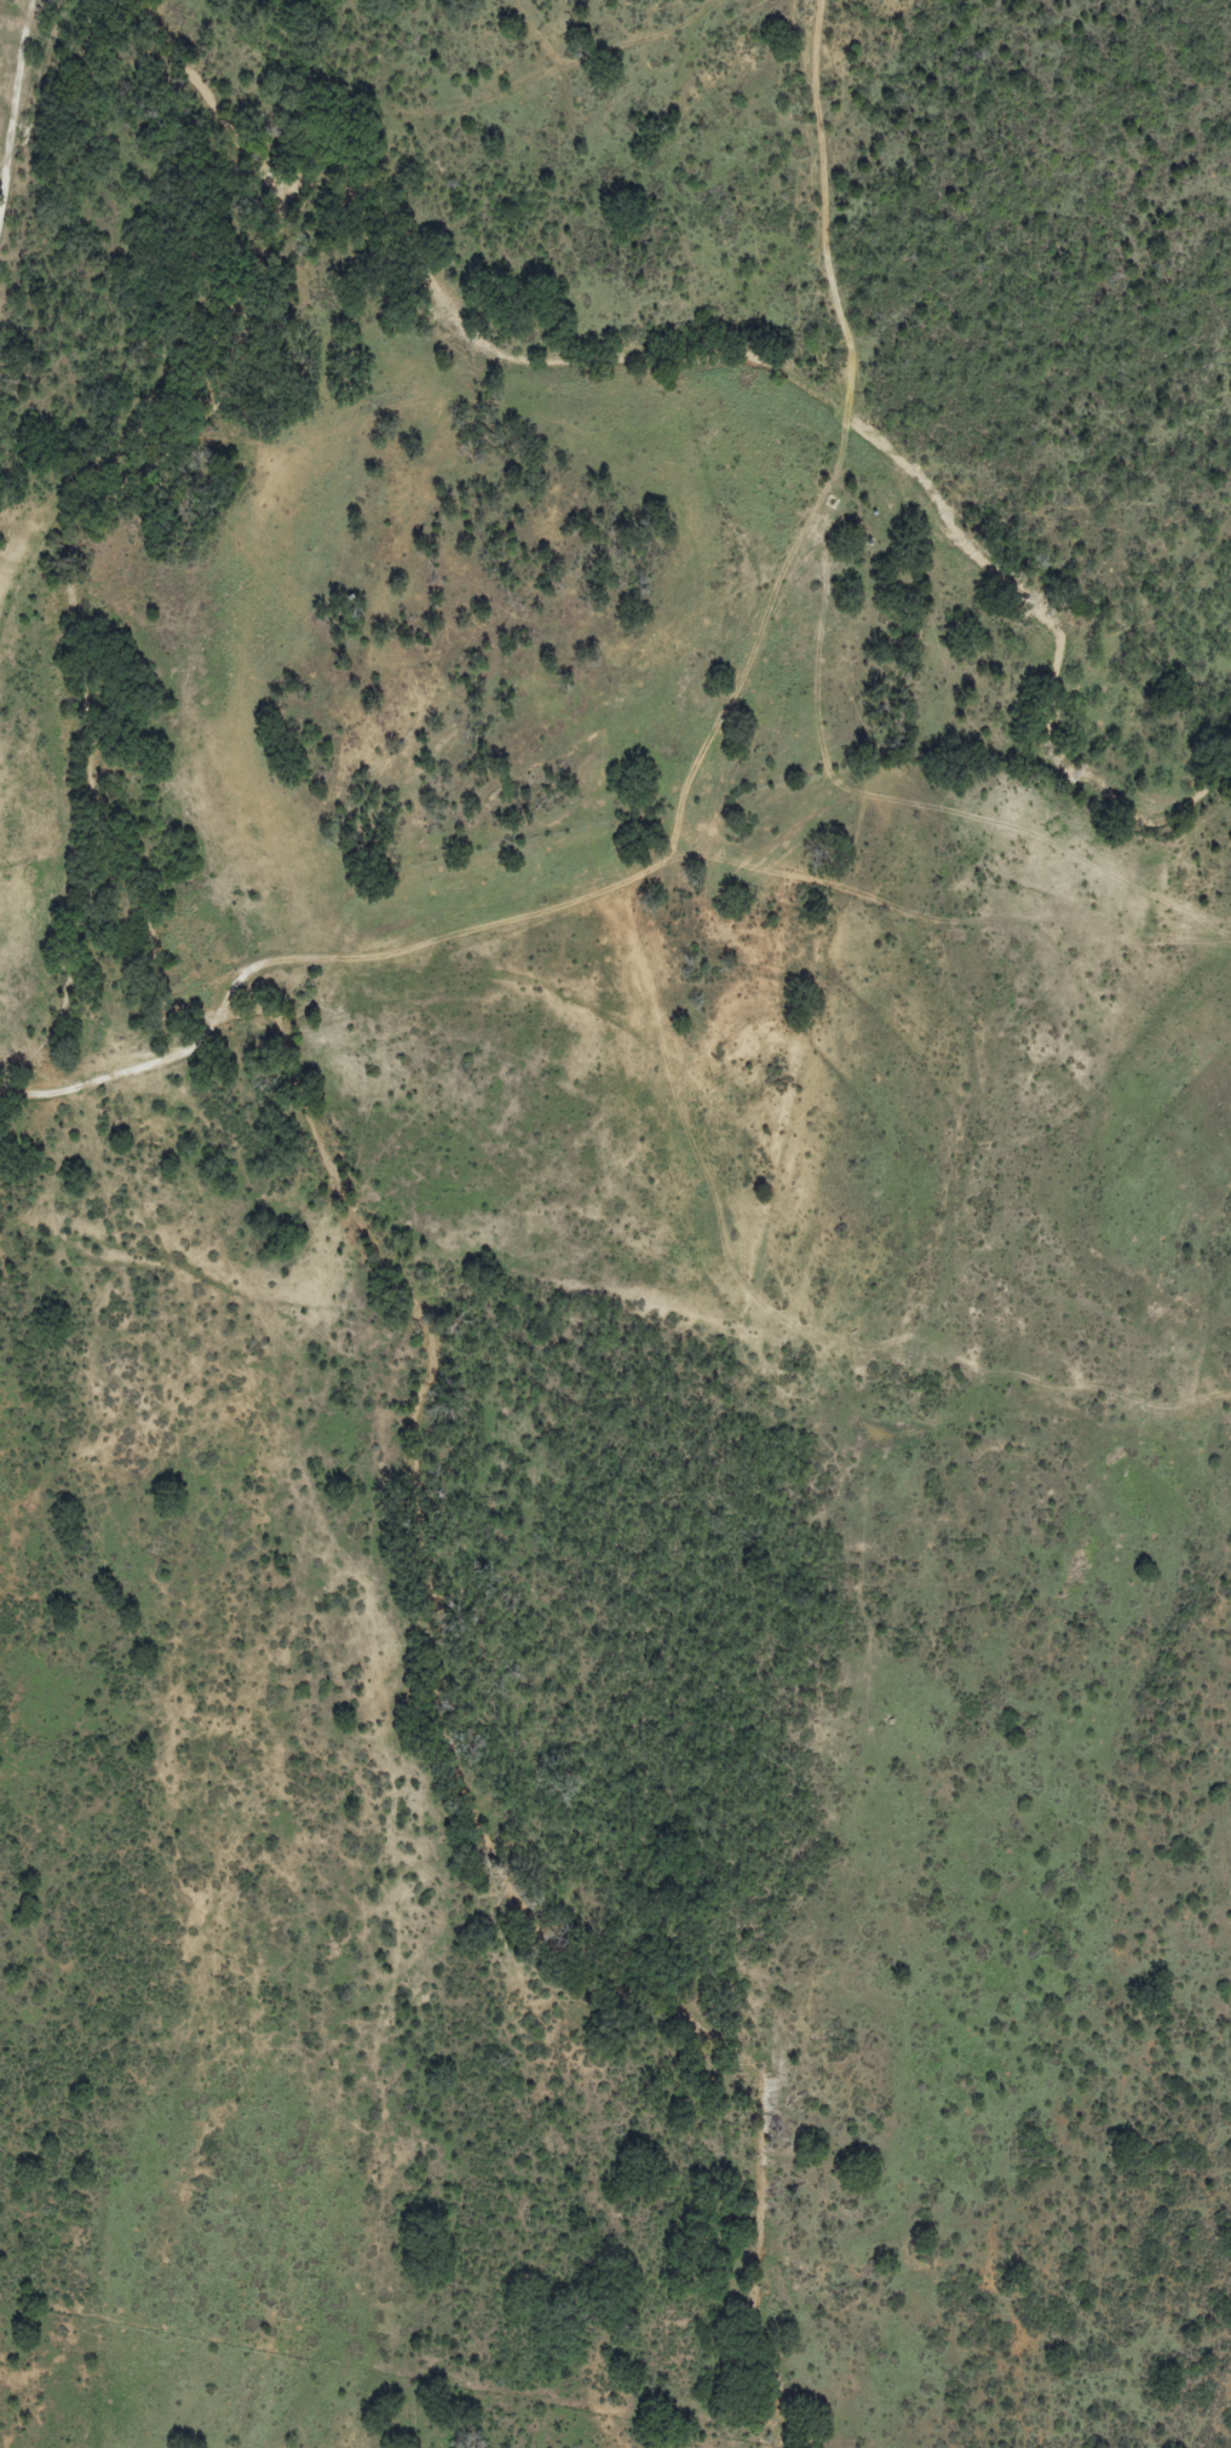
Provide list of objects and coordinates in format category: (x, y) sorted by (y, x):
road: (688, 778)

